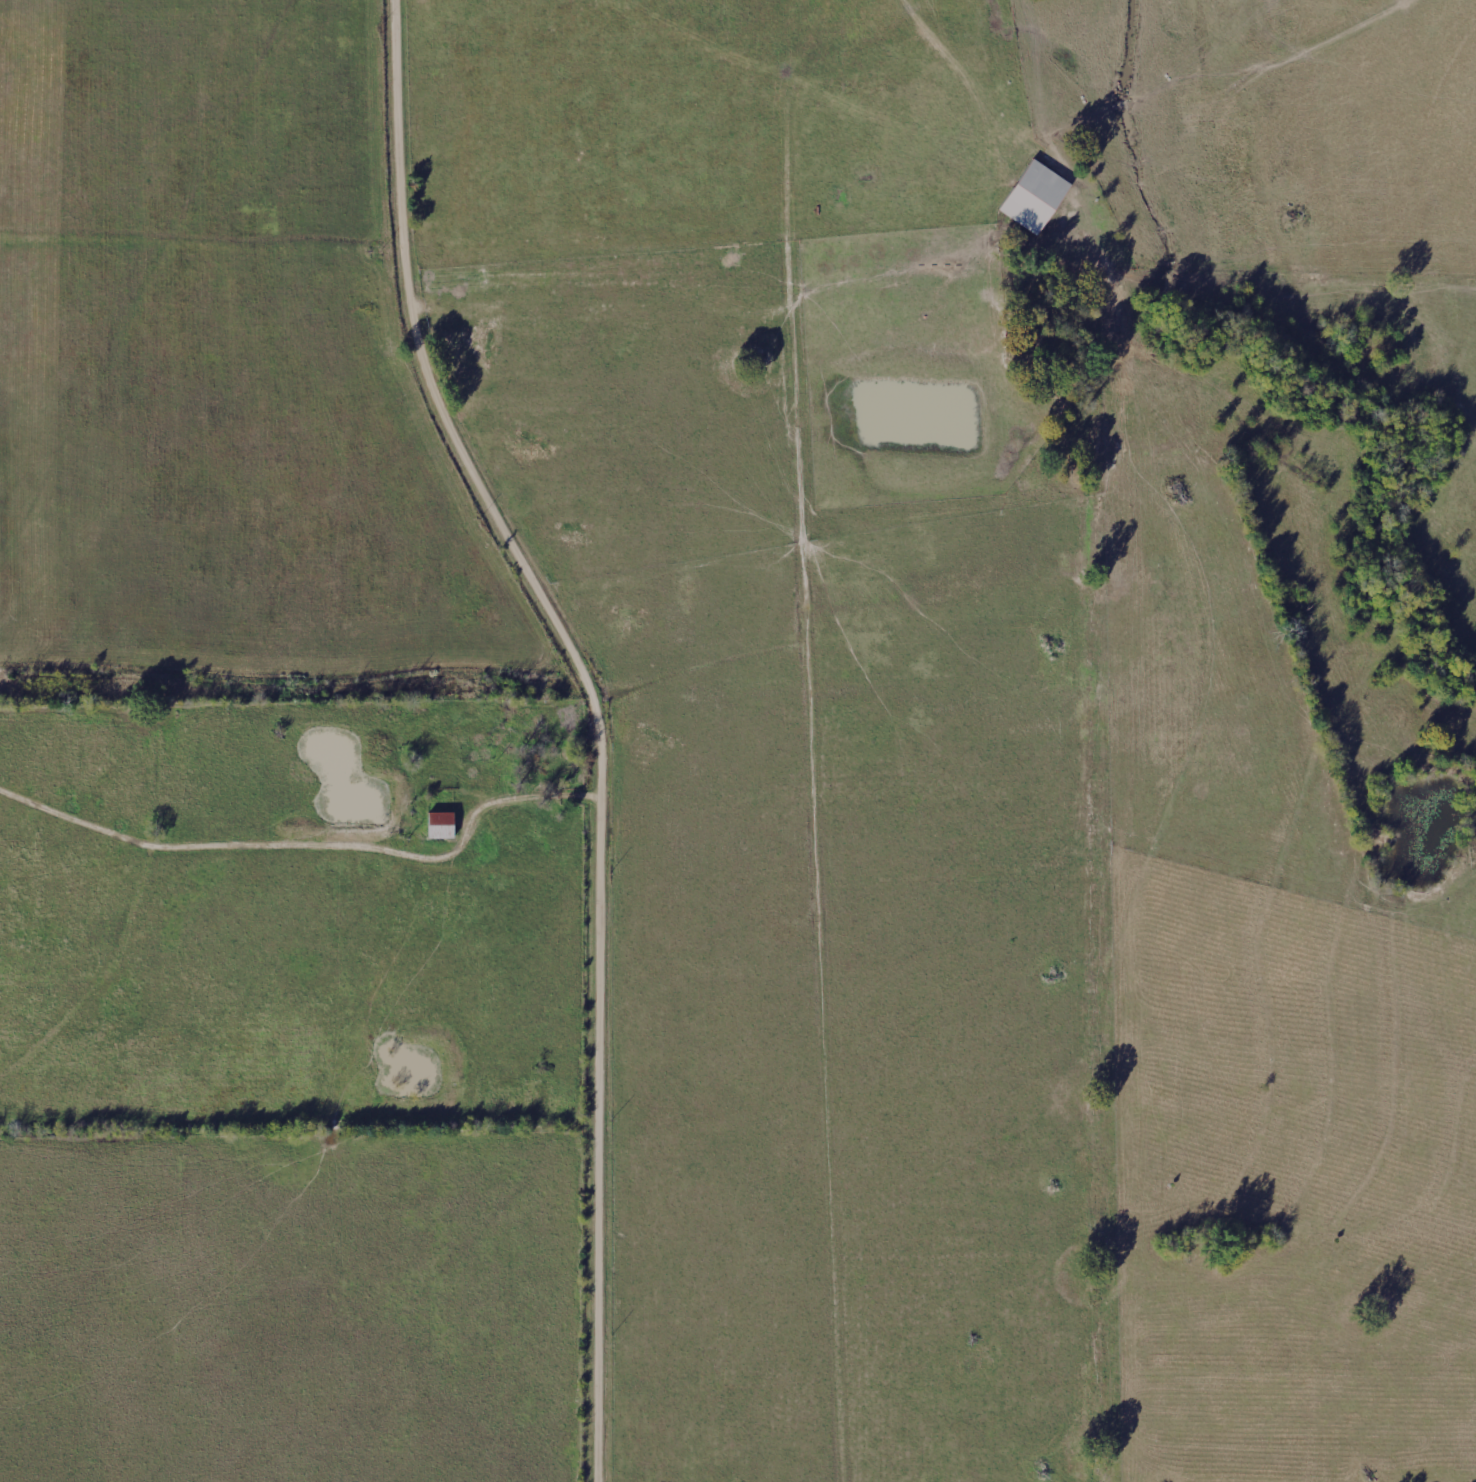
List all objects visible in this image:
building: (1039, 198)
road: (603, 719)
building: (445, 826)
road: (310, 864)

